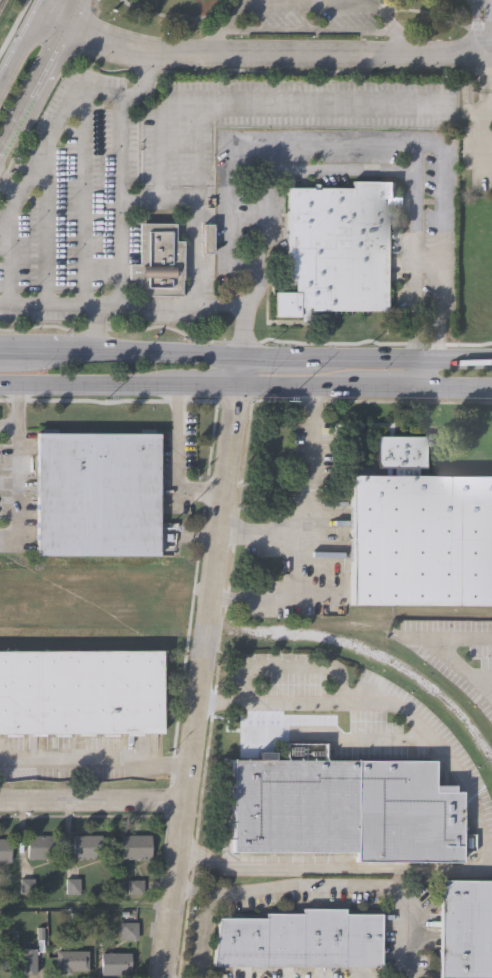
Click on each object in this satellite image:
railway: (1, 2)
road: (306, 6)
road: (41, 7)
road: (423, 11)
road: (71, 13)
road: (178, 16)
parking lot: (313, 19)
road: (51, 20)
road: (13, 25)
road: (484, 25)
road: (480, 28)
road: (306, 30)
road: (19, 49)
road: (272, 52)
road: (488, 52)
road: (486, 80)
road: (32, 88)
road: (49, 91)
road: (239, 104)
road: (489, 109)
road: (486, 139)
road: (49, 140)
road: (82, 144)
parking lot: (476, 144)
road: (370, 145)
road: (339, 172)
road: (118, 199)
road: (13, 203)
road: (48, 222)
building: (334, 248)
building: (158, 258)
road: (45, 300)
road: (167, 303)
road: (90, 310)
road: (92, 336)
road: (8, 354)
road: (41, 354)
road: (152, 354)
road: (366, 356)
road: (239, 370)
road: (375, 376)
road: (119, 383)
road: (365, 385)
road: (19, 405)
road: (9, 428)
building: (402, 449)
road: (175, 461)
road: (19, 491)
building: (97, 494)
road: (306, 496)
building: (421, 540)
railway: (82, 568)
road: (265, 597)
railway: (379, 615)
railway: (94, 633)
railway: (210, 633)
road: (442, 652)
railway: (381, 658)
building: (484, 678)
road: (486, 678)
road: (201, 681)
building: (79, 693)
road: (321, 737)
road: (95, 760)
road: (93, 801)
building: (346, 807)
road: (484, 827)
building: (87, 845)
building: (40, 846)
building: (135, 846)
building: (5, 850)
road: (329, 887)
road: (86, 905)
building: (465, 927)
building: (128, 931)
road: (205, 935)
building: (300, 937)
building: (28, 960)
building: (70, 961)
building: (115, 962)

